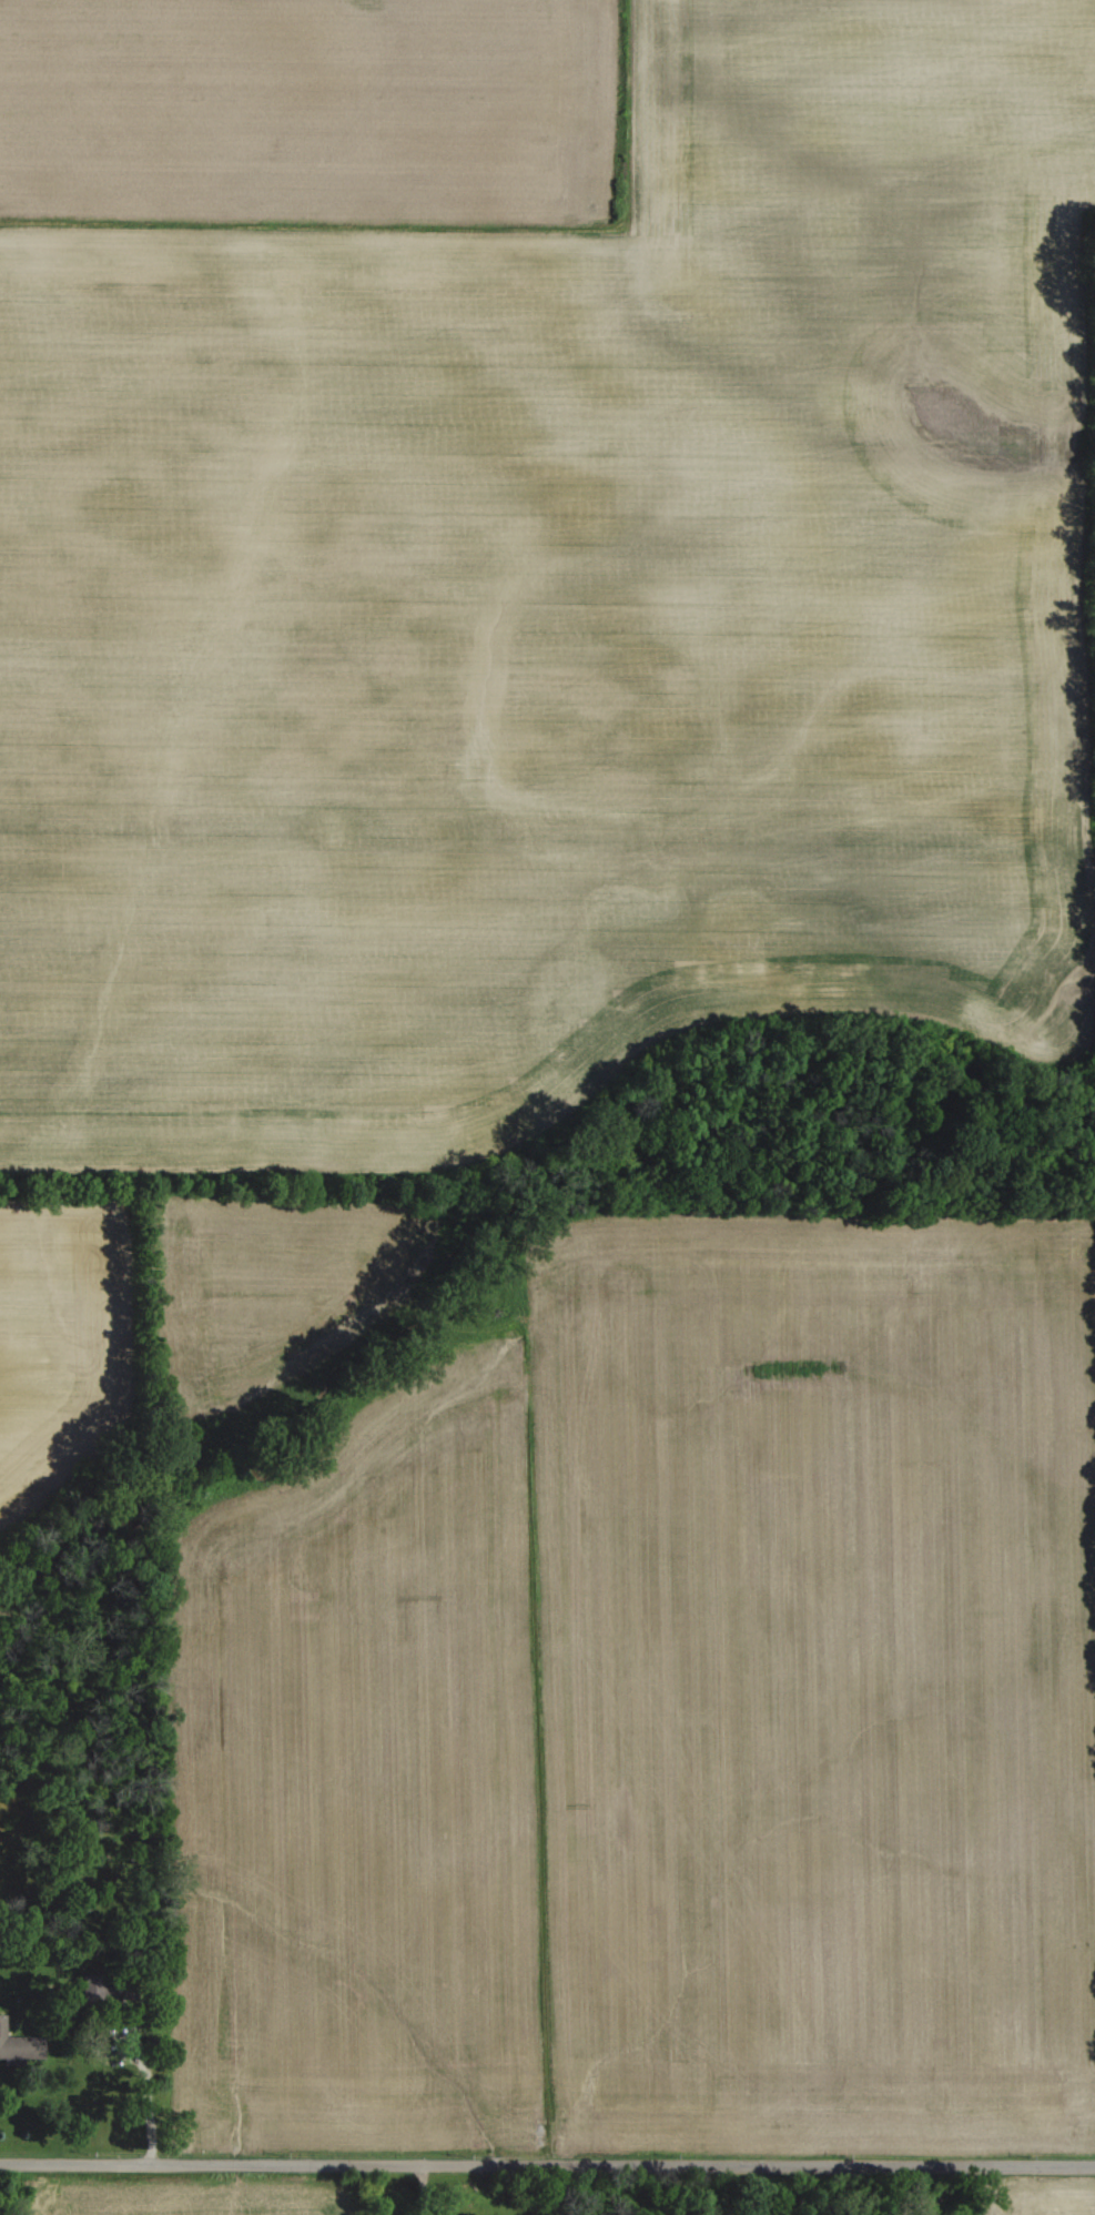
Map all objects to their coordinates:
building: (104, 1985)
building: (19, 2044)
road: (145, 2079)
road: (547, 2163)

